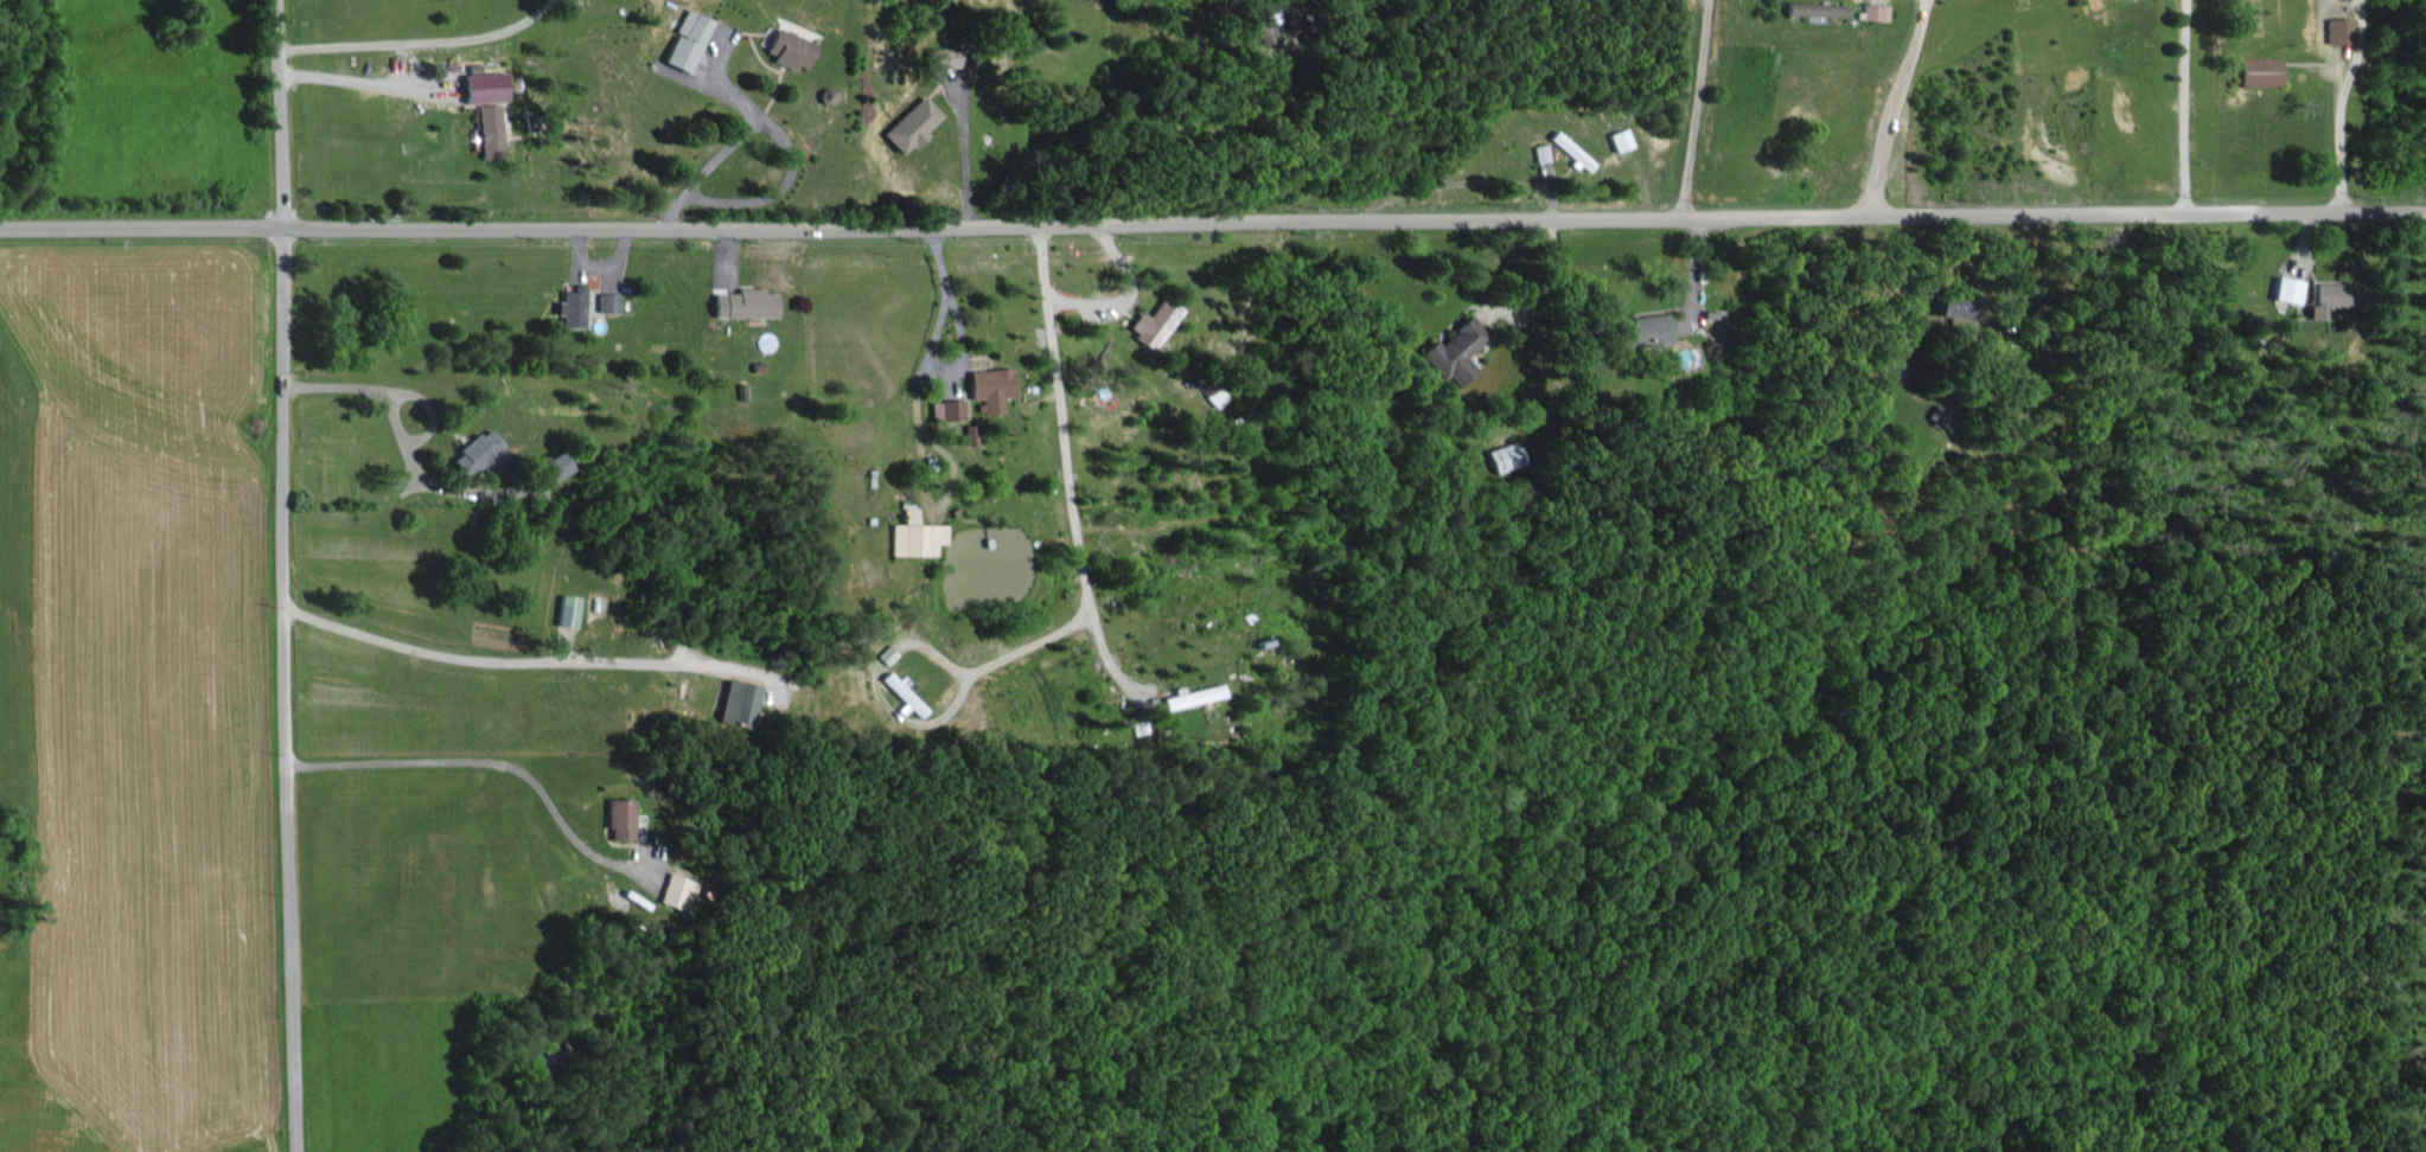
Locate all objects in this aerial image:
building: (1813, 7)
building: (1872, 9)
building: (1263, 26)
building: (2337, 28)
building: (683, 38)
building: (785, 45)
building: (943, 55)
building: (2259, 69)
building: (483, 84)
road: (1892, 105)
road: (1694, 108)
building: (909, 122)
building: (489, 129)
road: (741, 132)
building: (1619, 136)
building: (1569, 148)
building: (1539, 151)
road: (1213, 219)
building: (2286, 287)
building: (2331, 294)
road: (1118, 295)
building: (606, 300)
building: (748, 301)
building: (1956, 302)
building: (570, 305)
building: (1150, 320)
building: (1641, 329)
building: (1454, 348)
building: (987, 386)
building: (944, 408)
building: (968, 431)
building: (477, 452)
building: (1502, 455)
building: (548, 463)
road: (1064, 466)
building: (913, 533)
road: (283, 576)
building: (567, 608)
building: (883, 652)
building: (901, 691)
building: (1189, 693)
building: (735, 700)
building: (619, 817)
building: (677, 889)

